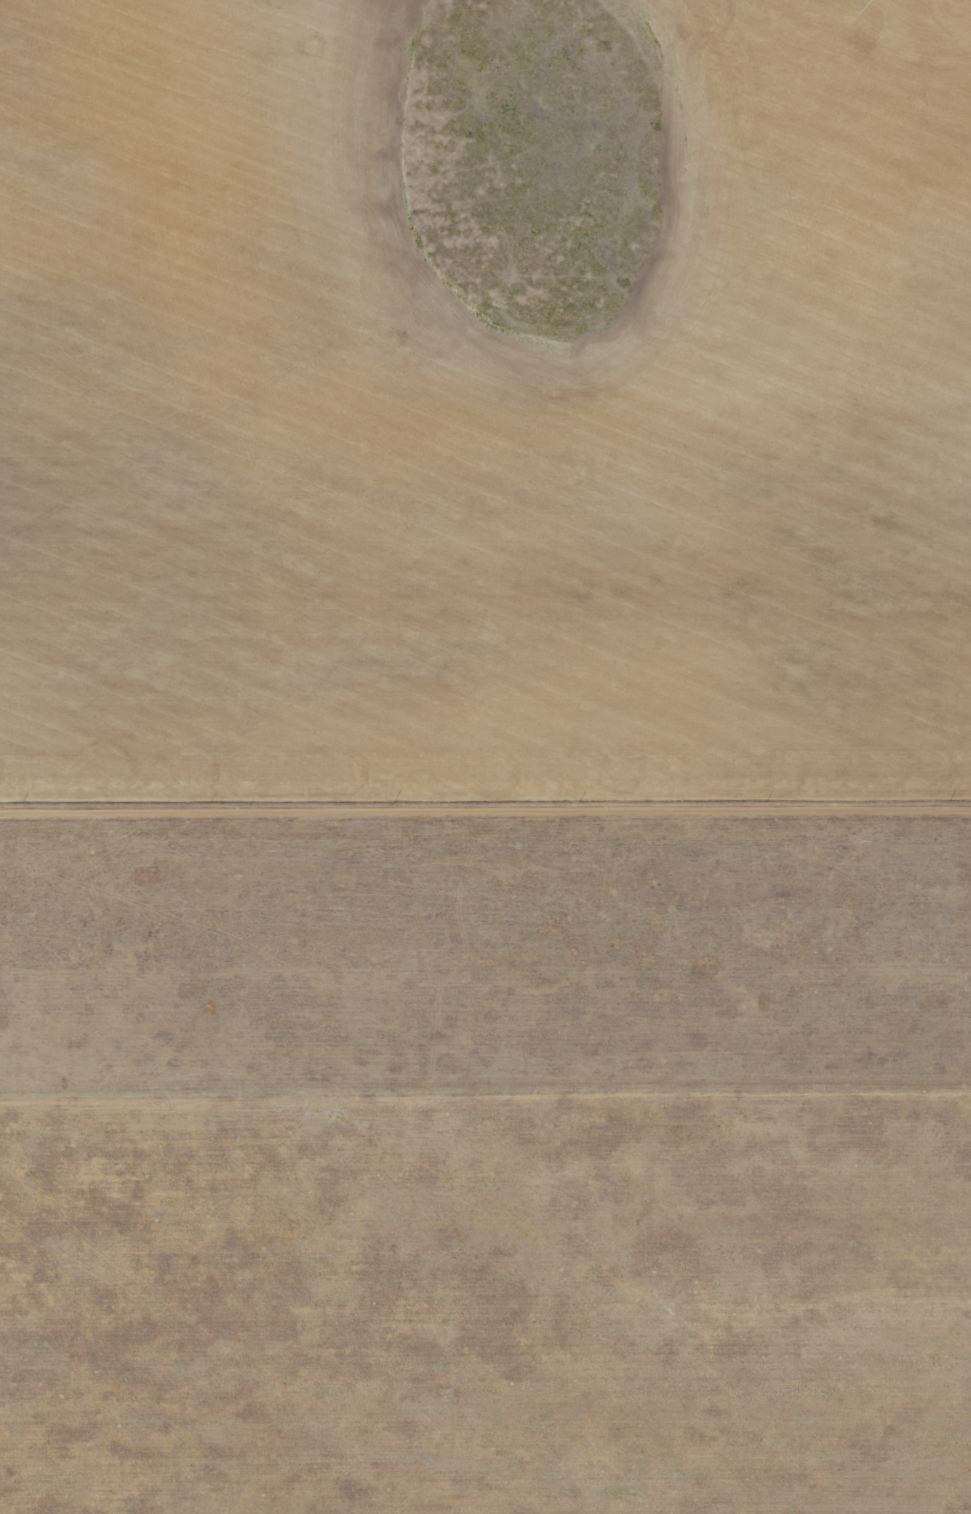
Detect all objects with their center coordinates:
road: (485, 811)

